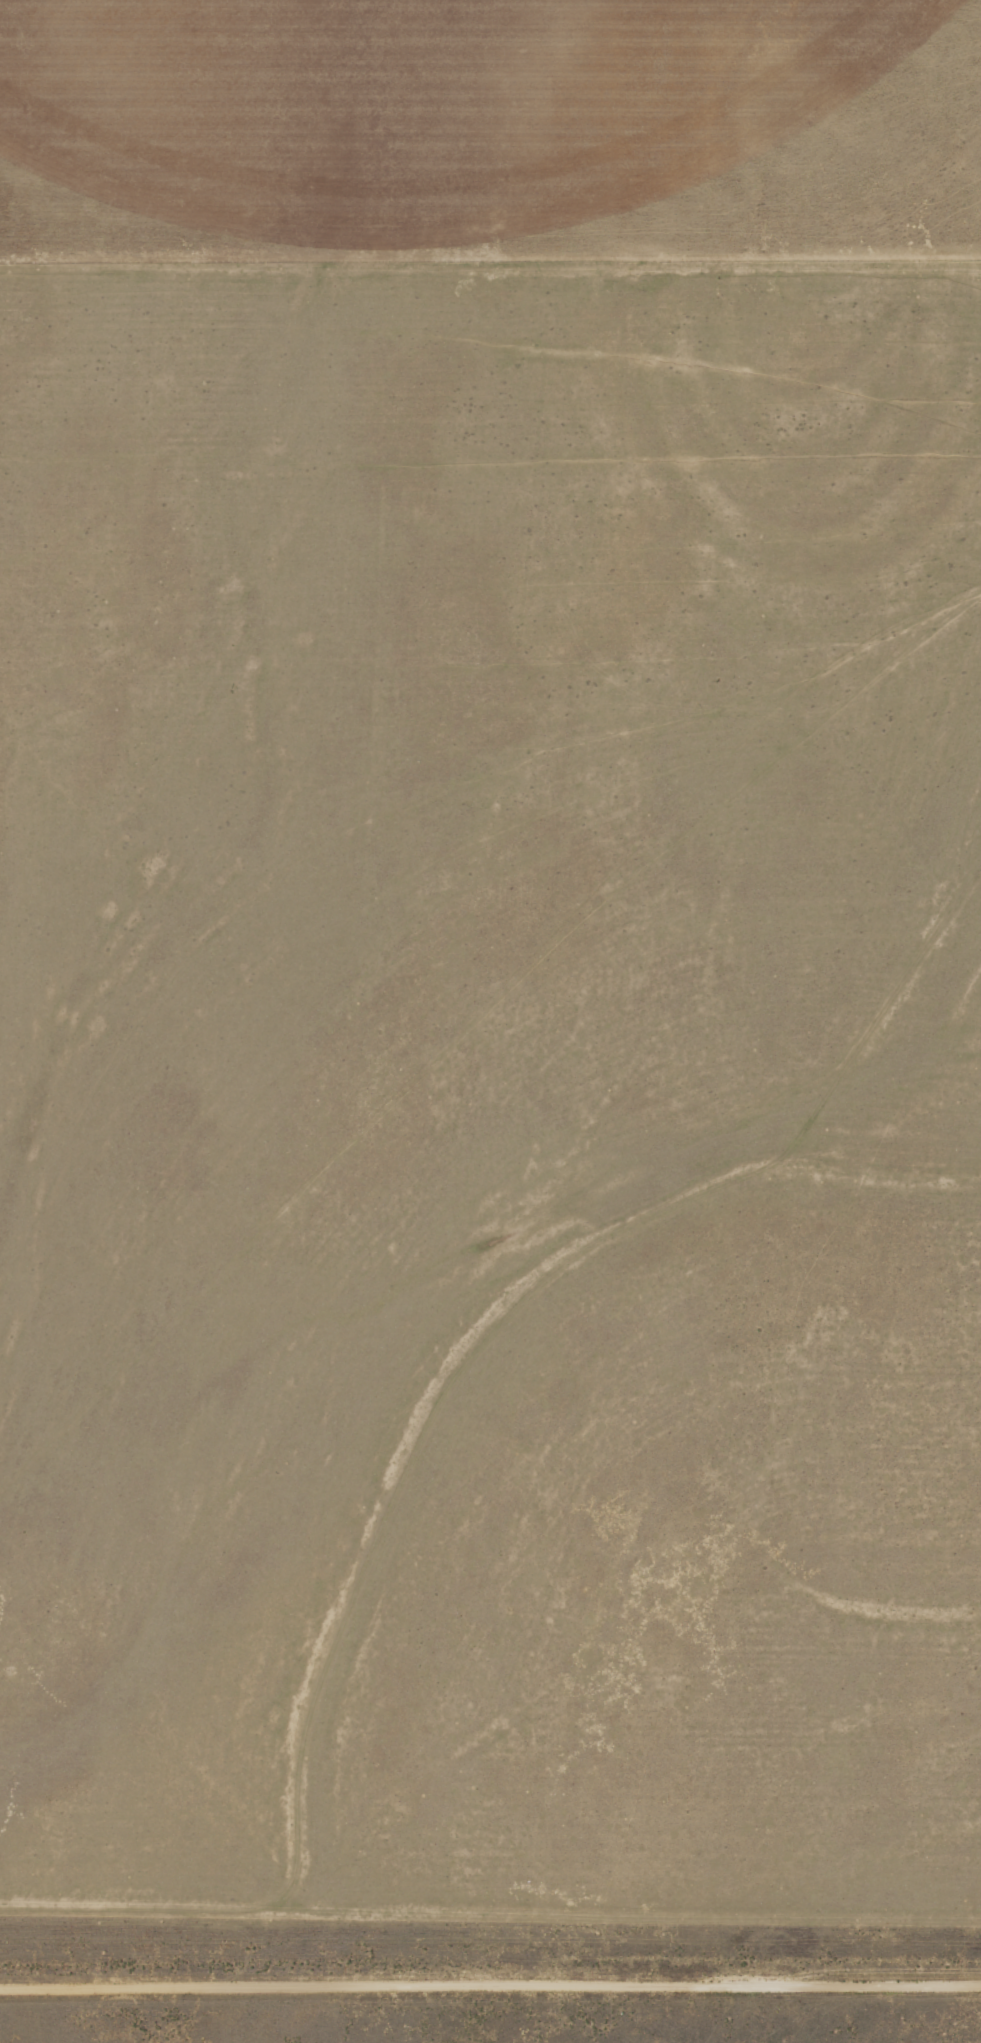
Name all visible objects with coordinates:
road: (490, 1953)

